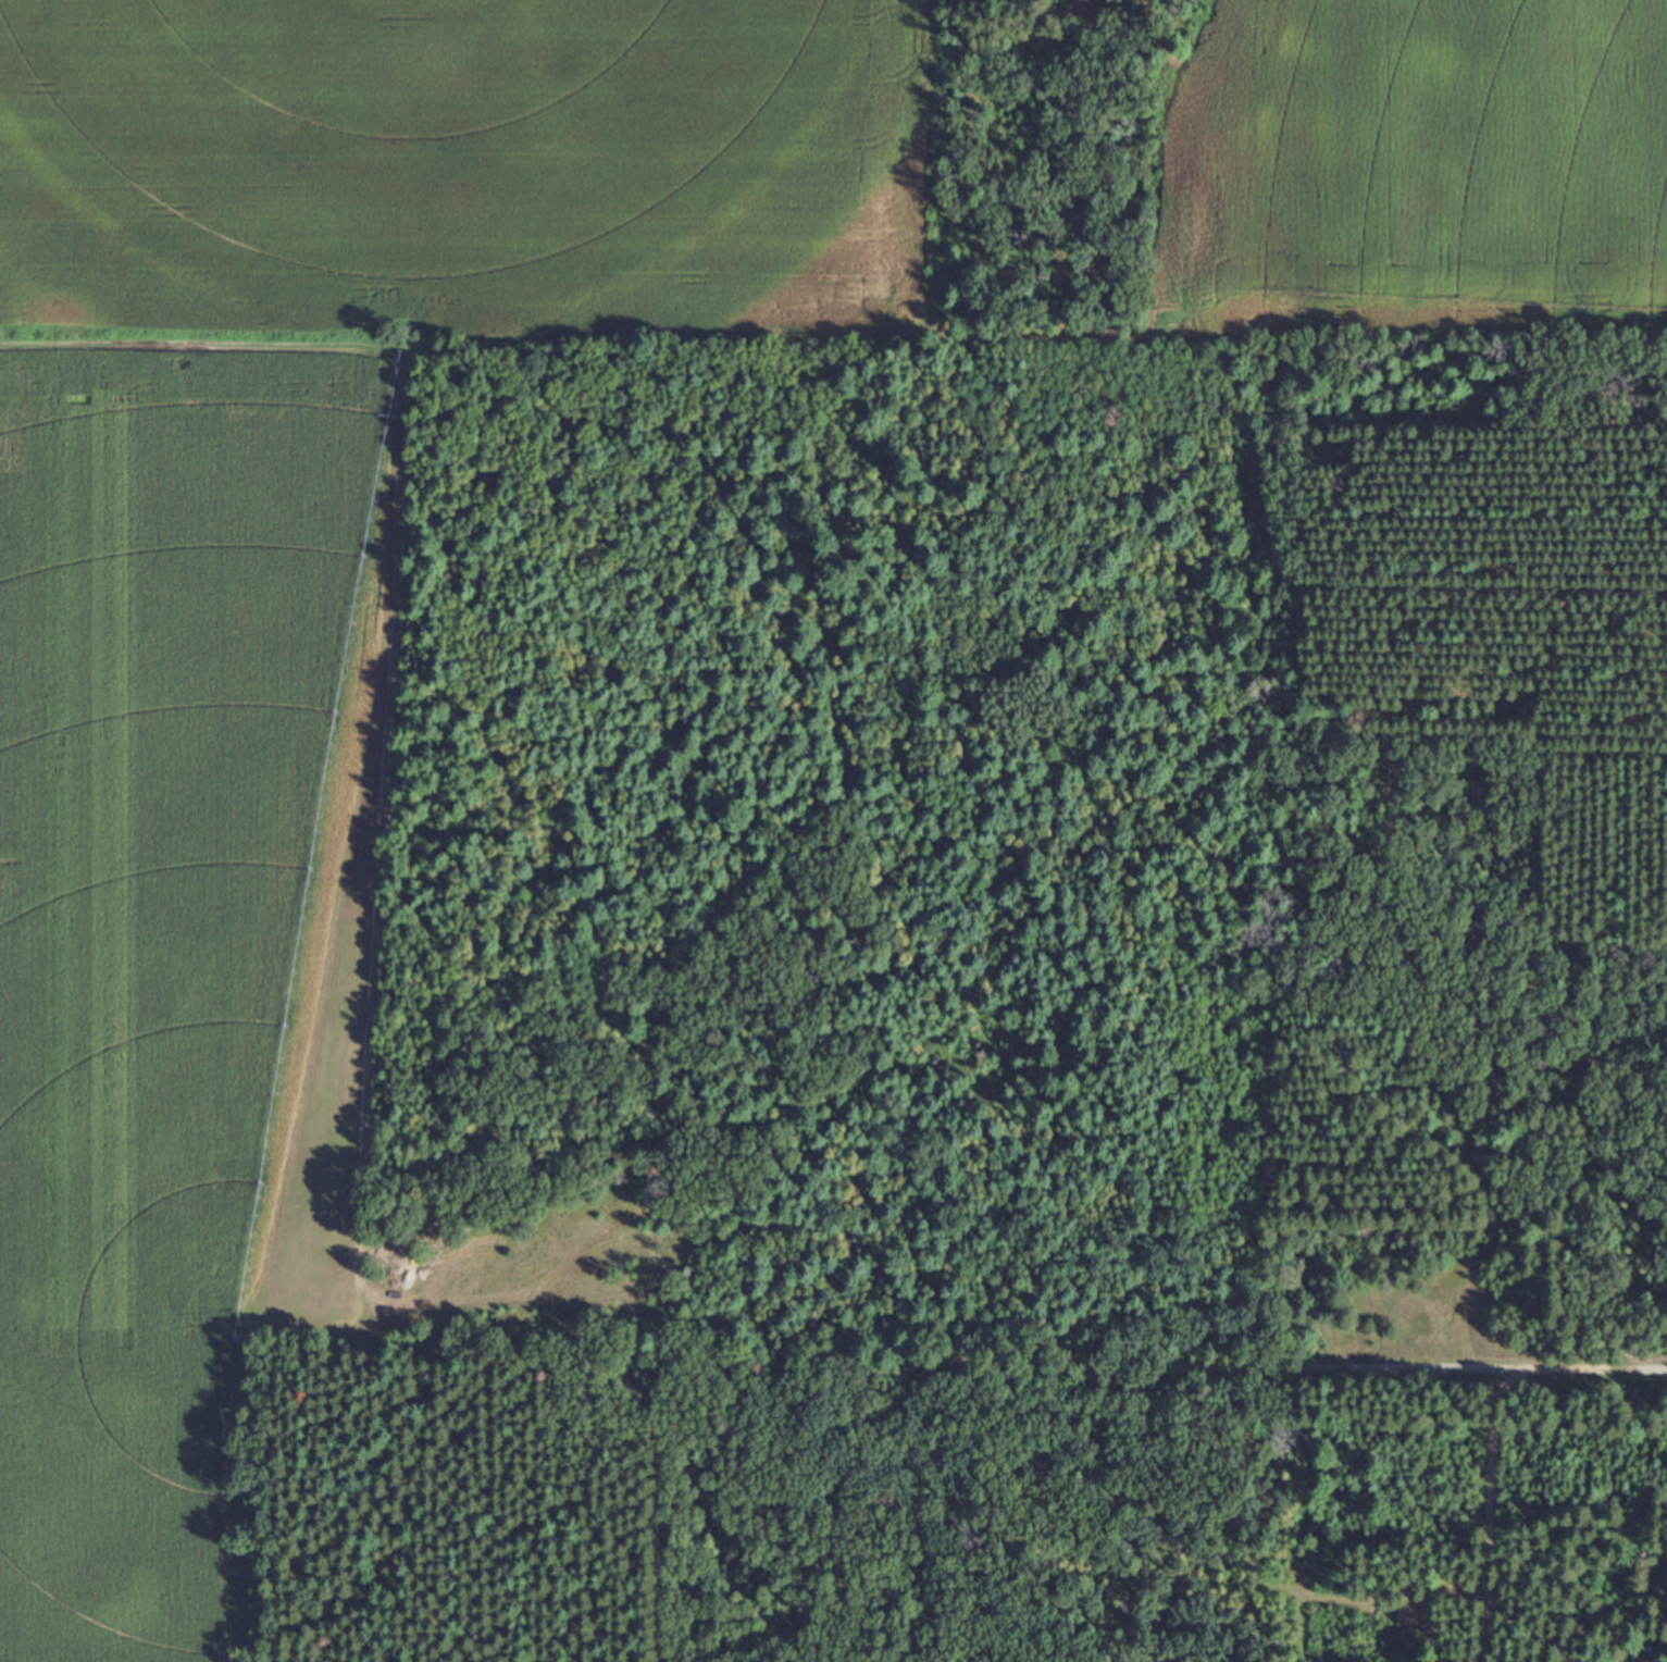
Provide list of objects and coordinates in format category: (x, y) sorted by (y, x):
road: (1441, 1370)
road: (1479, 1476)
road: (1526, 1620)
road: (1478, 1623)
building: (1645, 1660)

